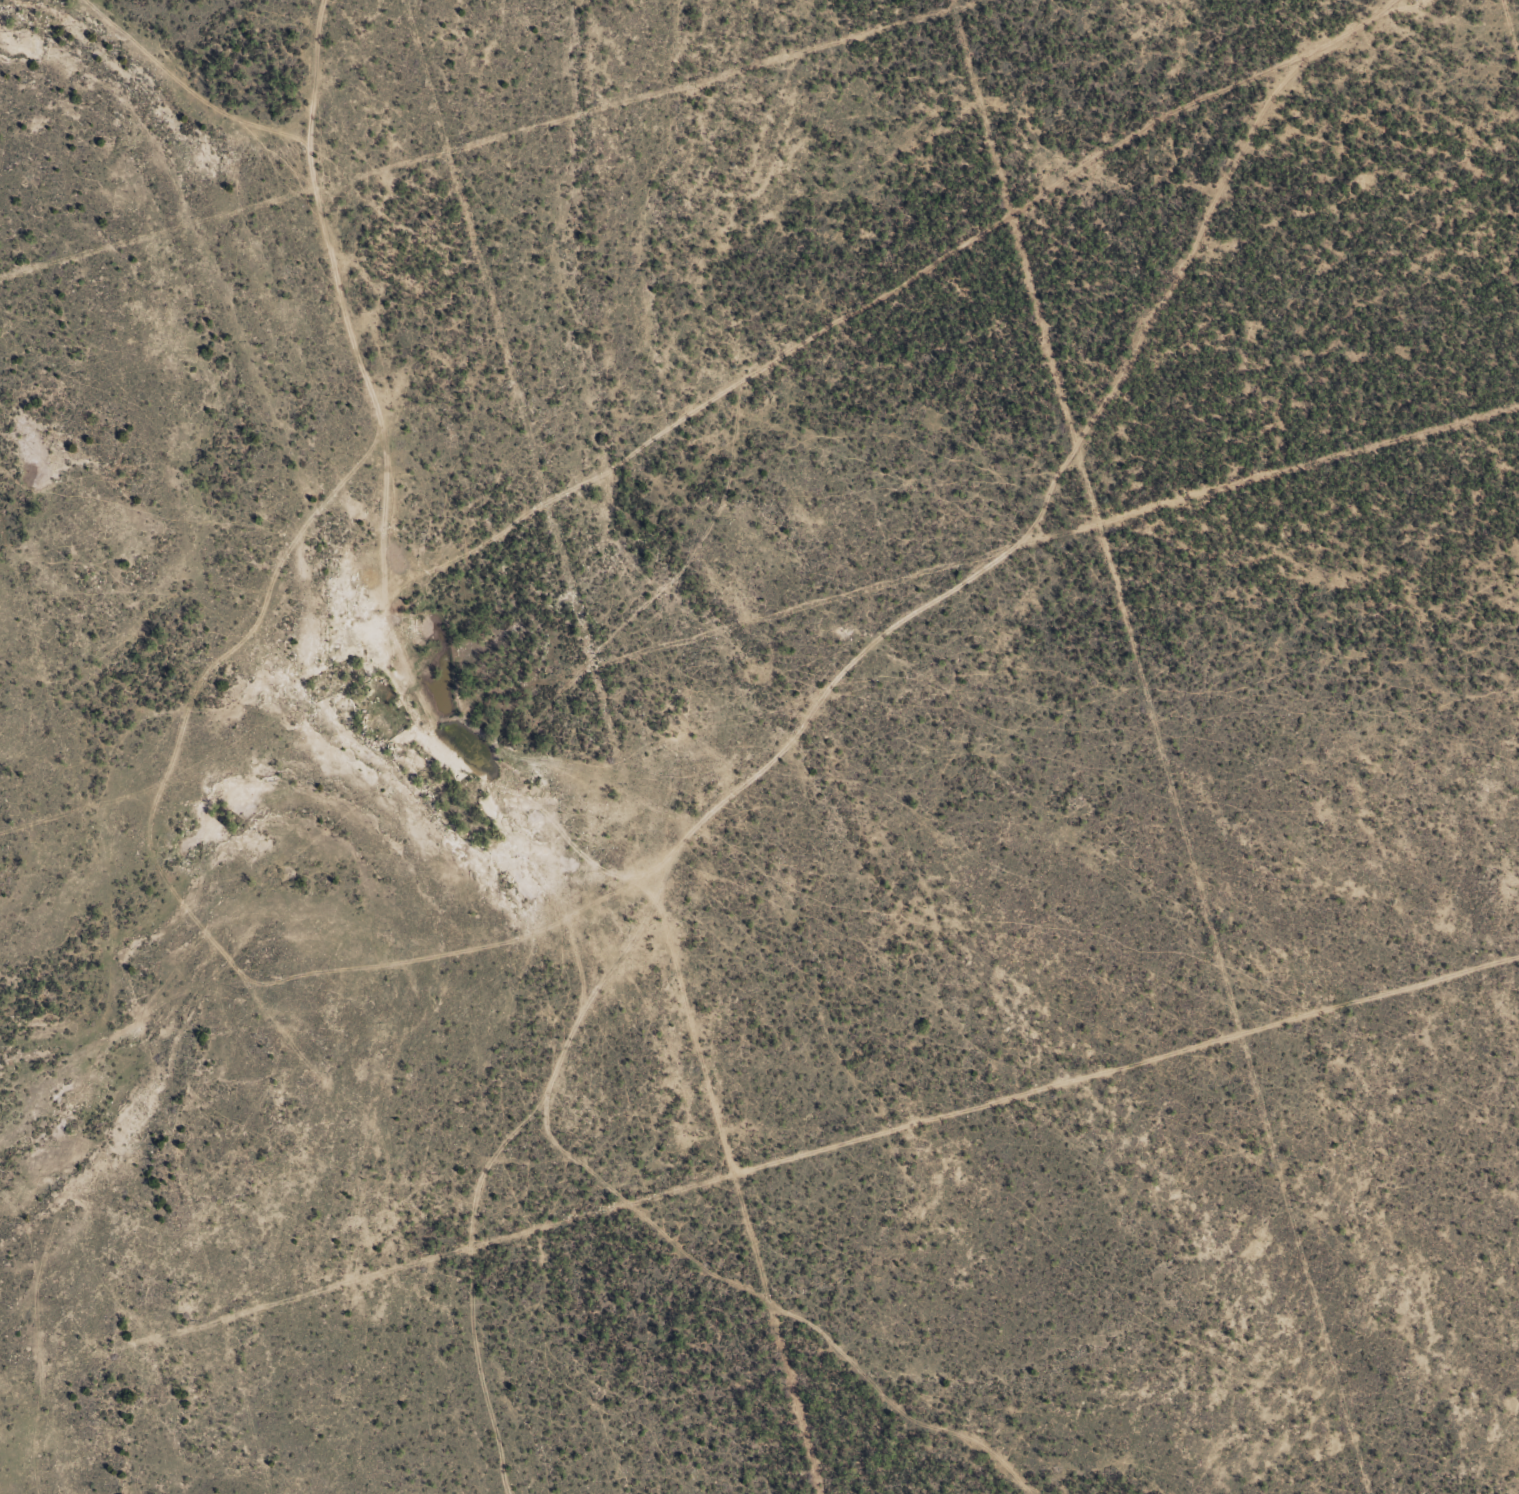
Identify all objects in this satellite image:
road: (852, 701)

